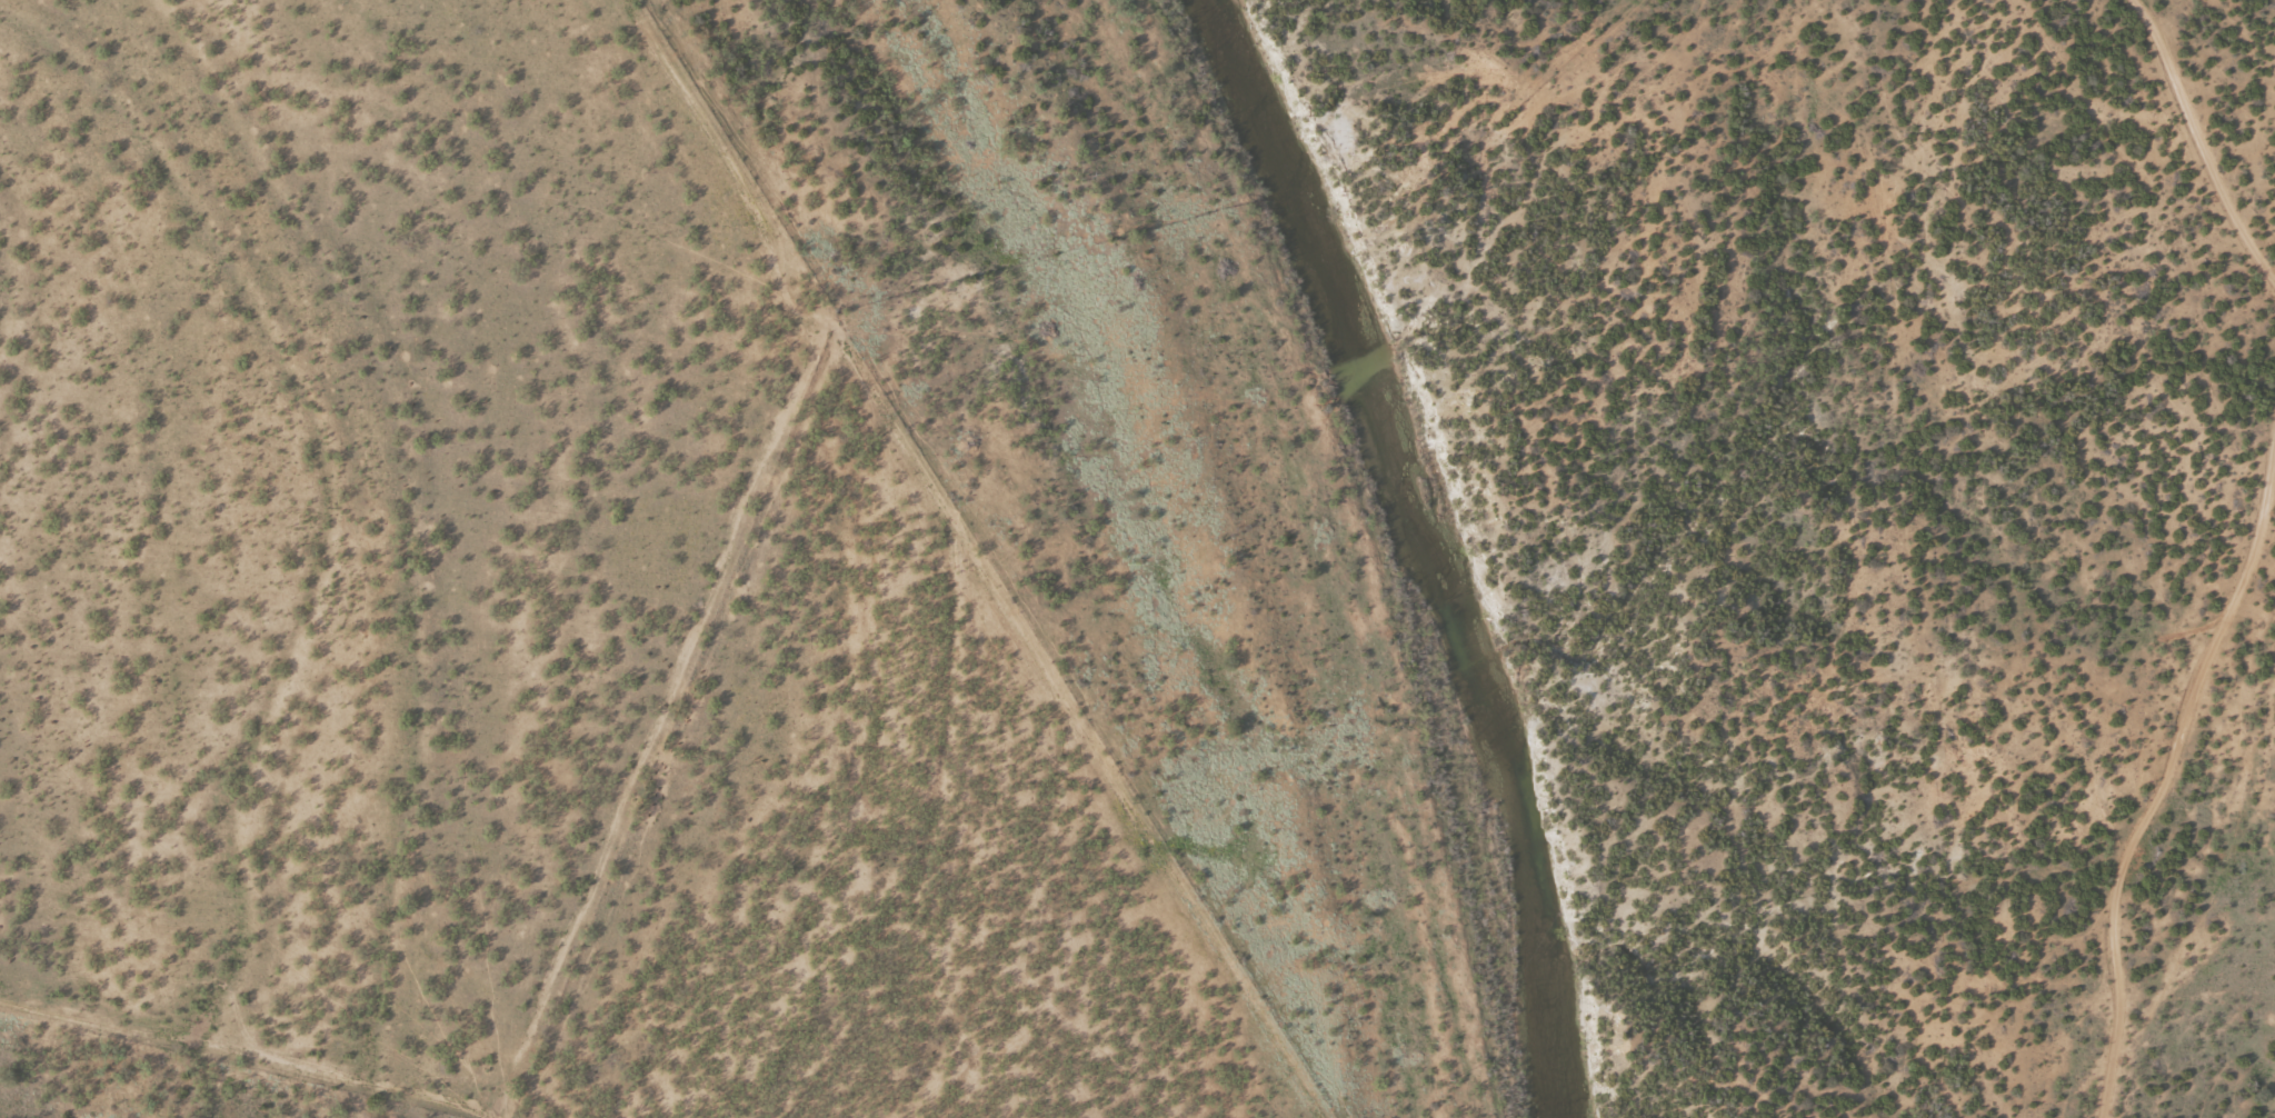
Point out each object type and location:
river: (1430, 546)
road: (2187, 845)

